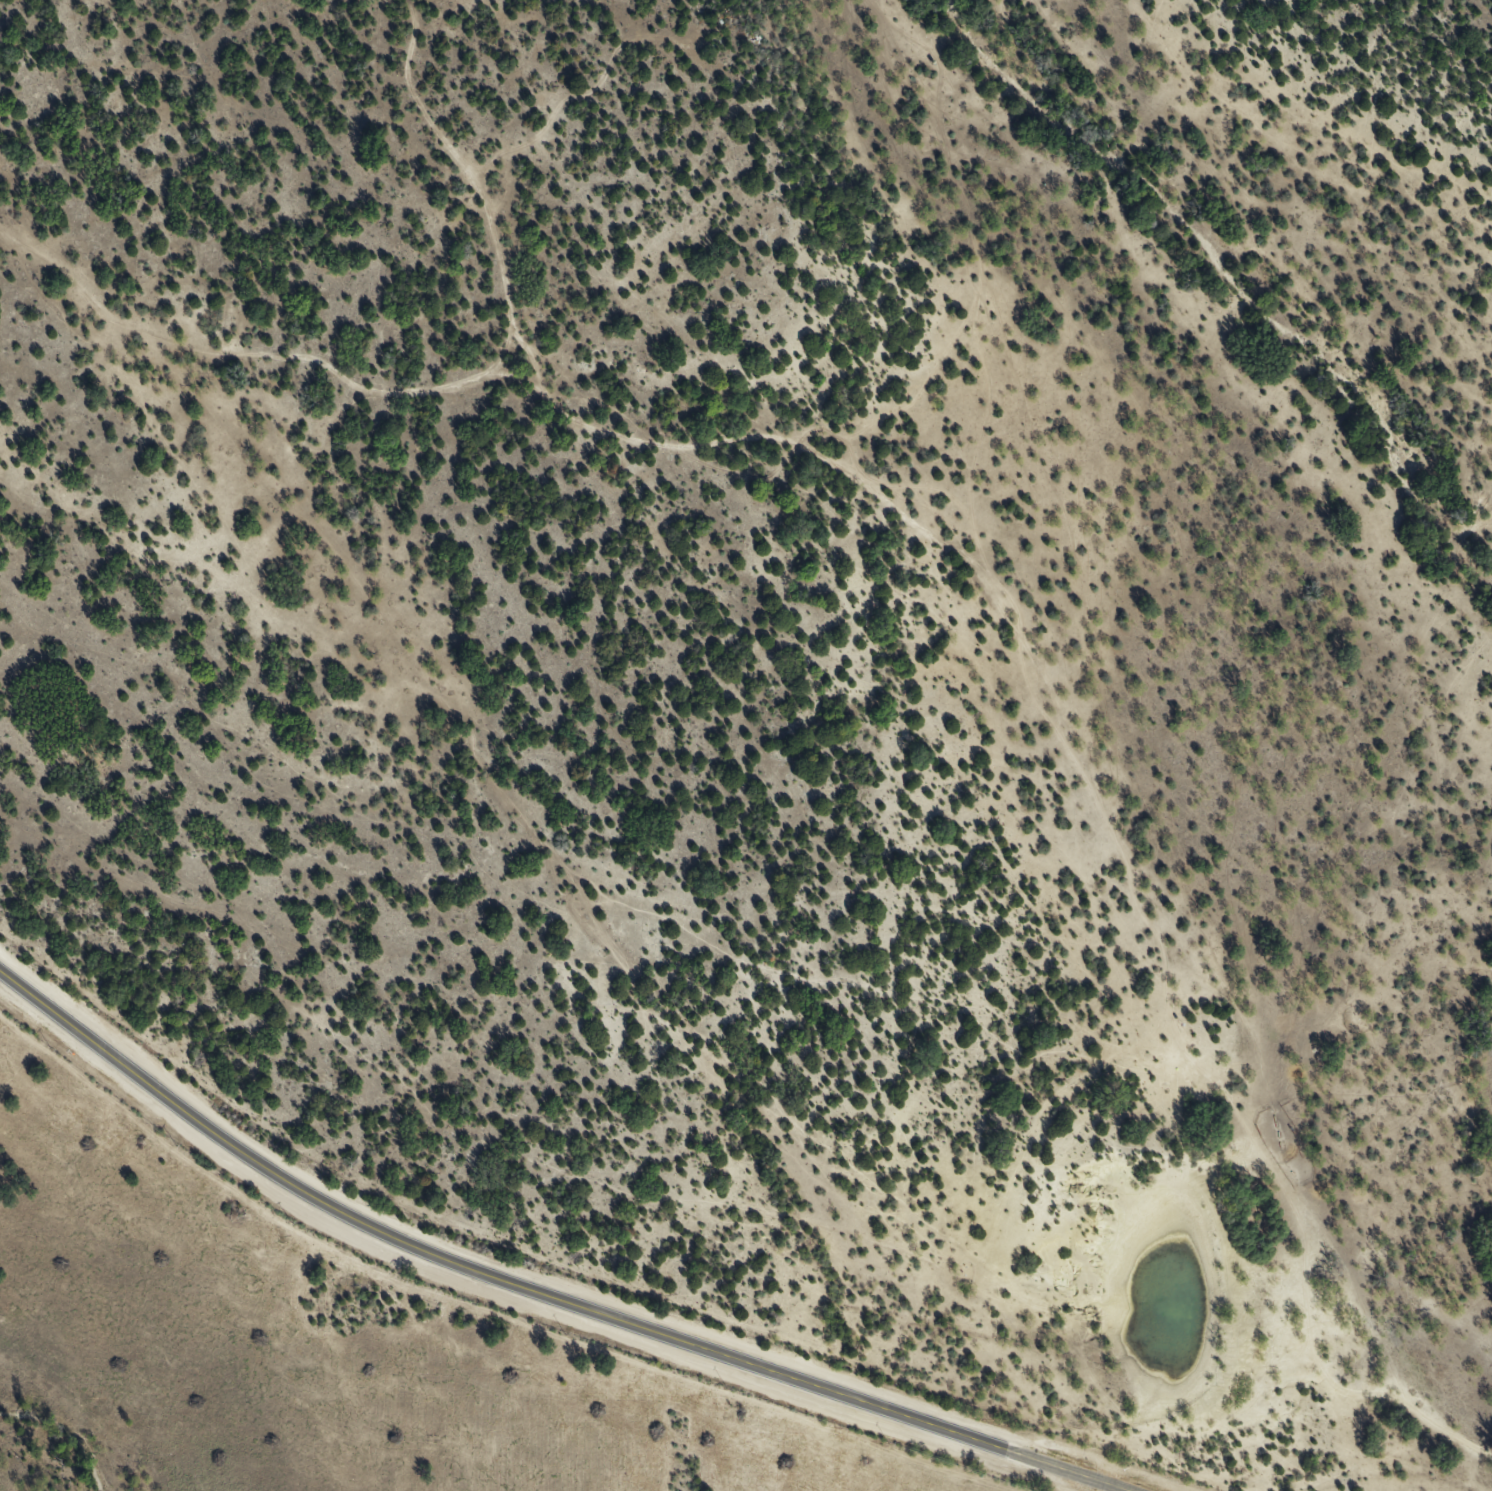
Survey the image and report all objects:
road: (244, 366)
road: (1001, 625)
road: (537, 1291)

